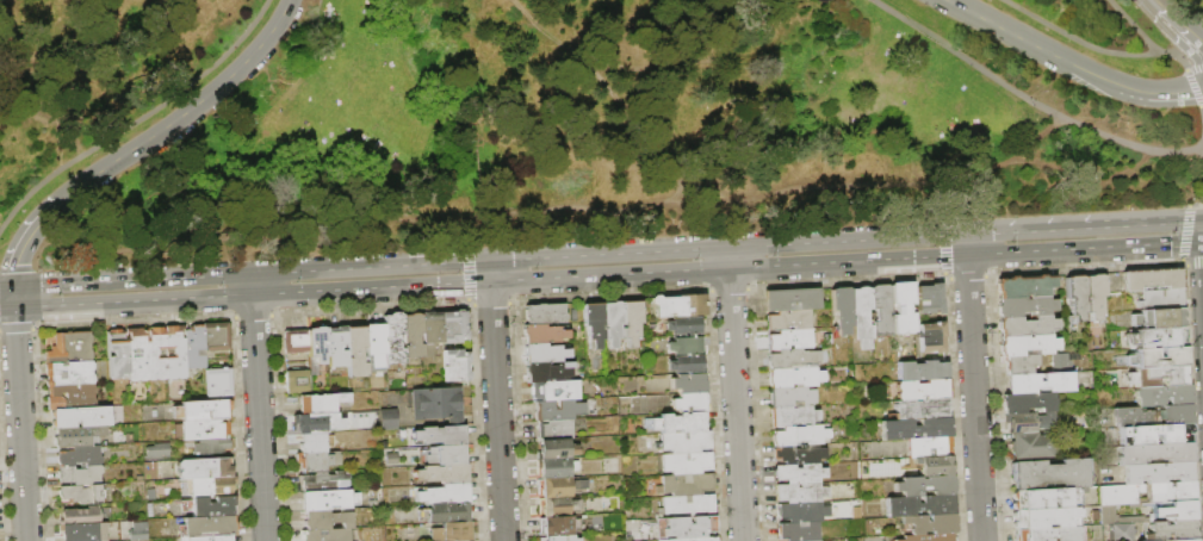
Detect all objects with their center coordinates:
road: (7, 2)
road: (1191, 7)
road: (1158, 8)
road: (1184, 25)
road: (1185, 33)
road: (1075, 39)
road: (1147, 41)
road: (1031, 44)
road: (1195, 70)
road: (1193, 89)
road: (1198, 91)
road: (1155, 94)
road: (1028, 98)
road: (49, 99)
road: (136, 119)
park: (573, 120)
road: (1202, 120)
road: (145, 142)
road: (1074, 142)
road: (1196, 205)
road: (577, 206)
road: (1104, 224)
road: (1185, 234)
road: (746, 244)
road: (965, 244)
road: (967, 256)
road: (727, 257)
road: (489, 270)
road: (249, 272)
building: (1152, 278)
road: (250, 285)
building: (1023, 285)
road: (6, 286)
traffic signals: (12, 286)
road: (371, 291)
building: (1075, 294)
building: (1093, 294)
road: (12, 298)
building: (929, 298)
building: (1160, 298)
building: (792, 299)
building: (678, 305)
building: (1024, 305)
building: (901, 307)
building: (841, 309)
building: (880, 310)
road: (6, 311)
traffic signals: (13, 311)
building: (542, 312)
building: (860, 317)
building: (1158, 317)
building: (630, 319)
building: (788, 319)
building: (593, 322)
building: (610, 322)
building: (682, 324)
building: (1025, 324)
building: (453, 327)
building: (430, 330)
building: (541, 332)
building: (411, 335)
building: (216, 336)
building: (931, 336)
building: (1155, 336)
building: (392, 338)
building: (789, 338)
building: (294, 340)
building: (374, 341)
building: (316, 343)
building: (683, 343)
building: (1025, 343)
building: (335, 346)
building: (69, 347)
building: (194, 347)
building: (355, 349)
building: (542, 352)
building: (174, 353)
building: (117, 354)
building: (136, 354)
building: (156, 354)
building: (1157, 356)
building: (793, 357)
building: (1060, 361)
building: (684, 362)
building: (1019, 362)
building: (455, 365)
building: (920, 371)
building: (544, 372)
building: (68, 373)
building: (1158, 375)
building: (795, 377)
building: (218, 381)
building: (297, 381)
building: (687, 381)
building: (1038, 381)
building: (554, 390)
building: (922, 390)
building: (1161, 394)
building: (70, 396)
building: (790, 397)
road: (973, 399)
building: (688, 400)
building: (1027, 402)
building: (321, 403)
building: (435, 403)
road: (736, 405)
building: (920, 408)
building: (557, 409)
building: (201, 410)
road: (496, 412)
building: (1176, 413)
building: (793, 416)
building: (1131, 416)
building: (79, 417)
building: (386, 418)
road: (258, 419)
building: (677, 422)
building: (1021, 422)
building: (316, 423)
road: (19, 425)
building: (916, 428)
building: (204, 429)
building: (554, 429)
building: (1158, 433)
building: (439, 434)
building: (799, 434)
building: (76, 436)
building: (683, 441)
building: (312, 442)
building: (1030, 444)
building: (929, 446)
building: (209, 447)
building: (553, 448)
building: (156, 452)
building: (798, 453)
building: (1155, 453)
building: (444, 454)
building: (79, 455)
building: (316, 460)
building: (684, 462)
building: (932, 465)
building: (204, 467)
building: (552, 467)
building: (1158, 471)
building: (441, 473)
building: (800, 473)
building: (1049, 473)
building: (79, 474)
building: (324, 480)
building: (684, 484)
building: (559, 485)
building: (924, 485)
building: (211, 486)
building: (1171, 490)
building: (799, 491)
building: (80, 493)
building: (442, 493)
building: (1121, 493)
building: (1040, 497)
building: (327, 499)
building: (558, 505)
building: (686, 505)
building: (919, 505)
building: (213, 506)
building: (801, 510)
building: (1177, 510)
building: (446, 511)
building: (80, 515)
building: (1043, 516)
building: (1120, 516)
building: (324, 518)
building: (929, 523)
building: (558, 524)
building: (209, 526)
building: (683, 527)
building: (1173, 529)
building: (798, 530)
building: (81, 531)
building: (138, 531)
building: (451, 531)
building: (1122, 531)
building: (1046, 533)
building: (324, 535)
building: (219, 537)
building: (559, 537)
building: (928, 537)
building: (194, 539)
building: (688, 539)
building: (813, 540)
building: (1180, 540)

